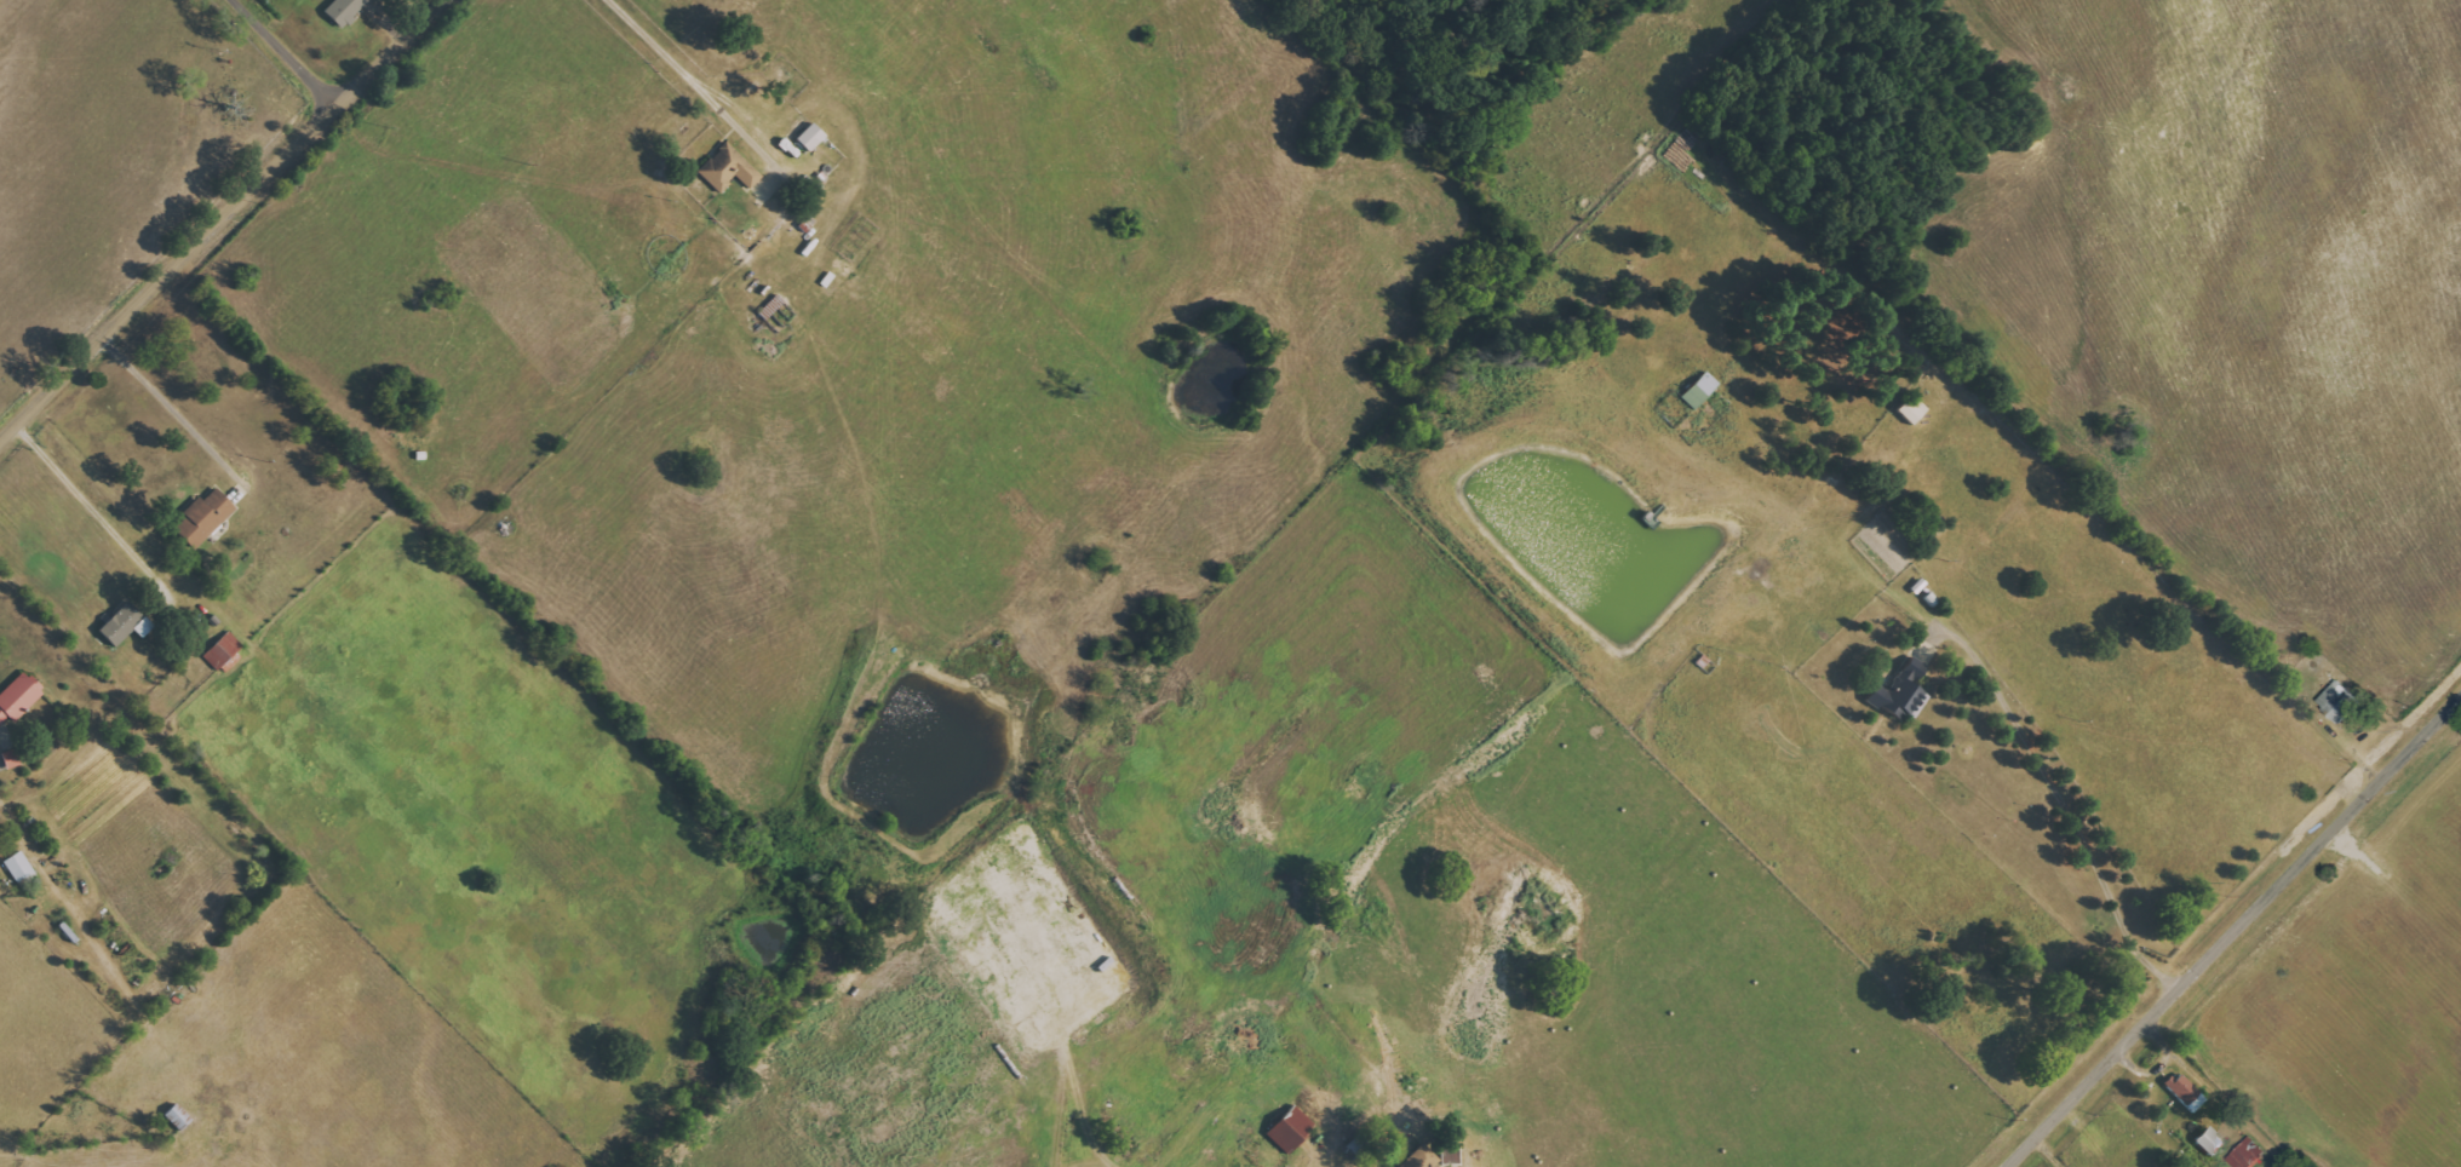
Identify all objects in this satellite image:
building: (345, 10)
road: (270, 67)
road: (704, 91)
building: (811, 137)
building: (729, 168)
road: (234, 226)
building: (1702, 390)
road: (173, 409)
building: (1914, 409)
road: (86, 501)
building: (205, 518)
building: (122, 625)
building: (226, 654)
building: (1901, 691)
building: (17, 699)
building: (2340, 701)
building: (12, 759)
road: (2061, 799)
building: (21, 868)
road: (2232, 930)
building: (2186, 1091)
building: (1291, 1128)
building: (2212, 1140)
building: (2248, 1154)
building: (1421, 1159)

